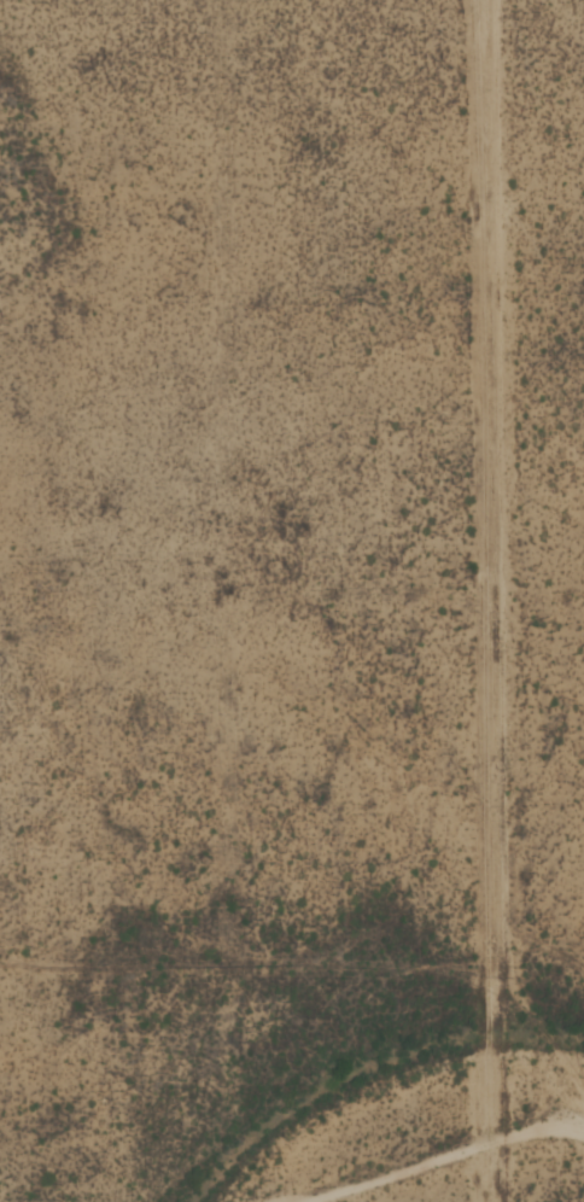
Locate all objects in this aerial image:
road: (449, 1156)

